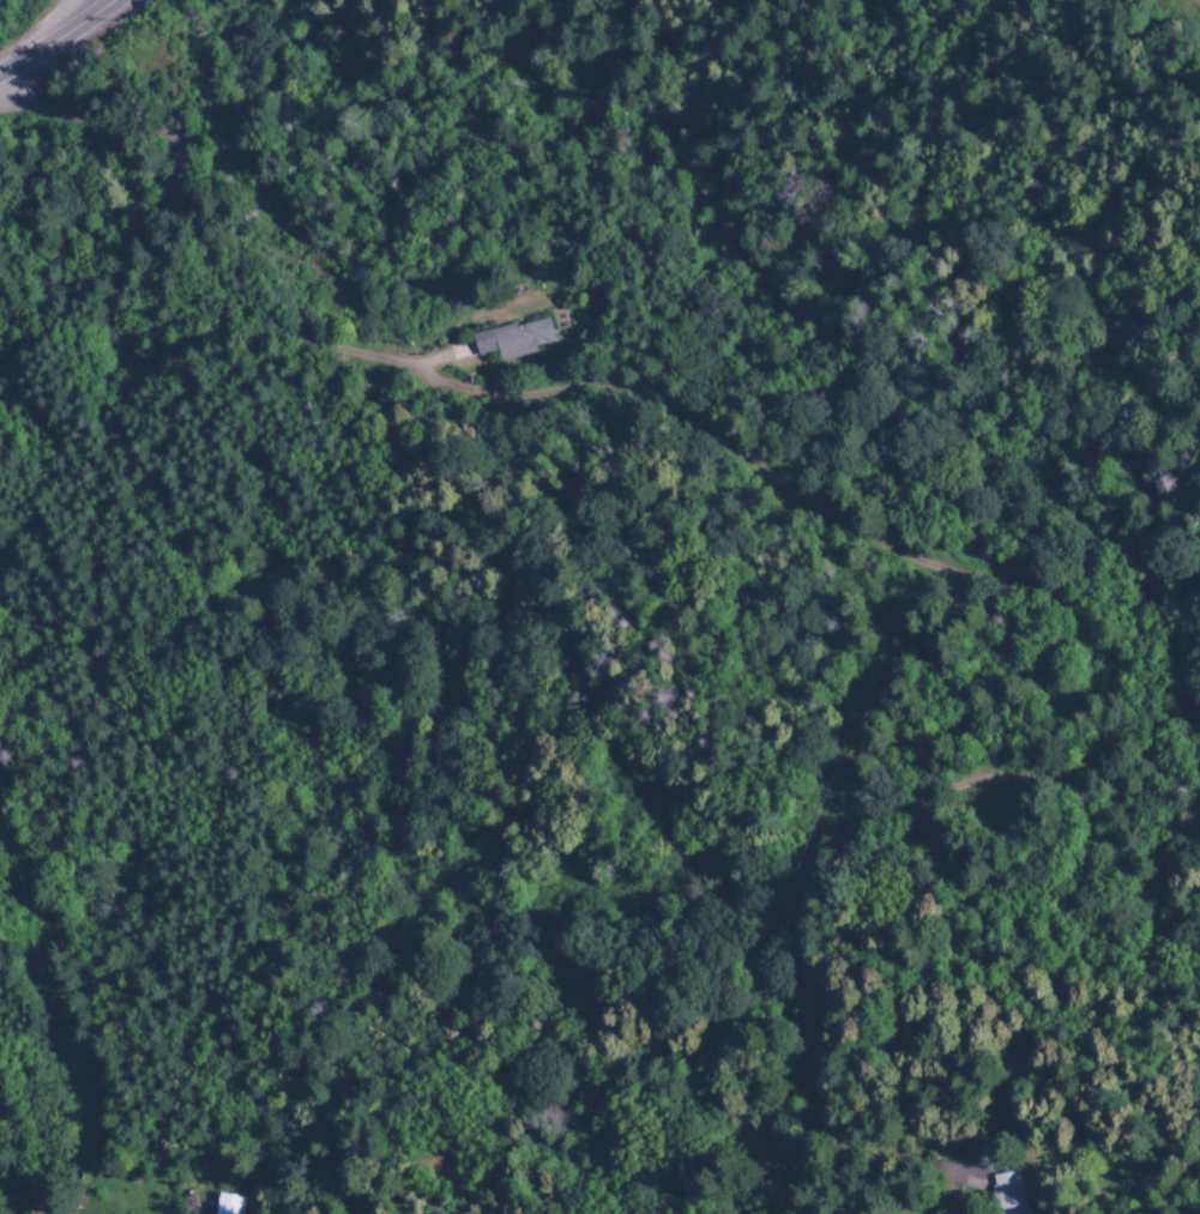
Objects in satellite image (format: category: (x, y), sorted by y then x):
road: (545, 35)
road: (1141, 36)
road: (62, 41)
building: (514, 337)
road: (680, 425)
road: (668, 1045)
building: (1011, 1192)
building: (229, 1203)

